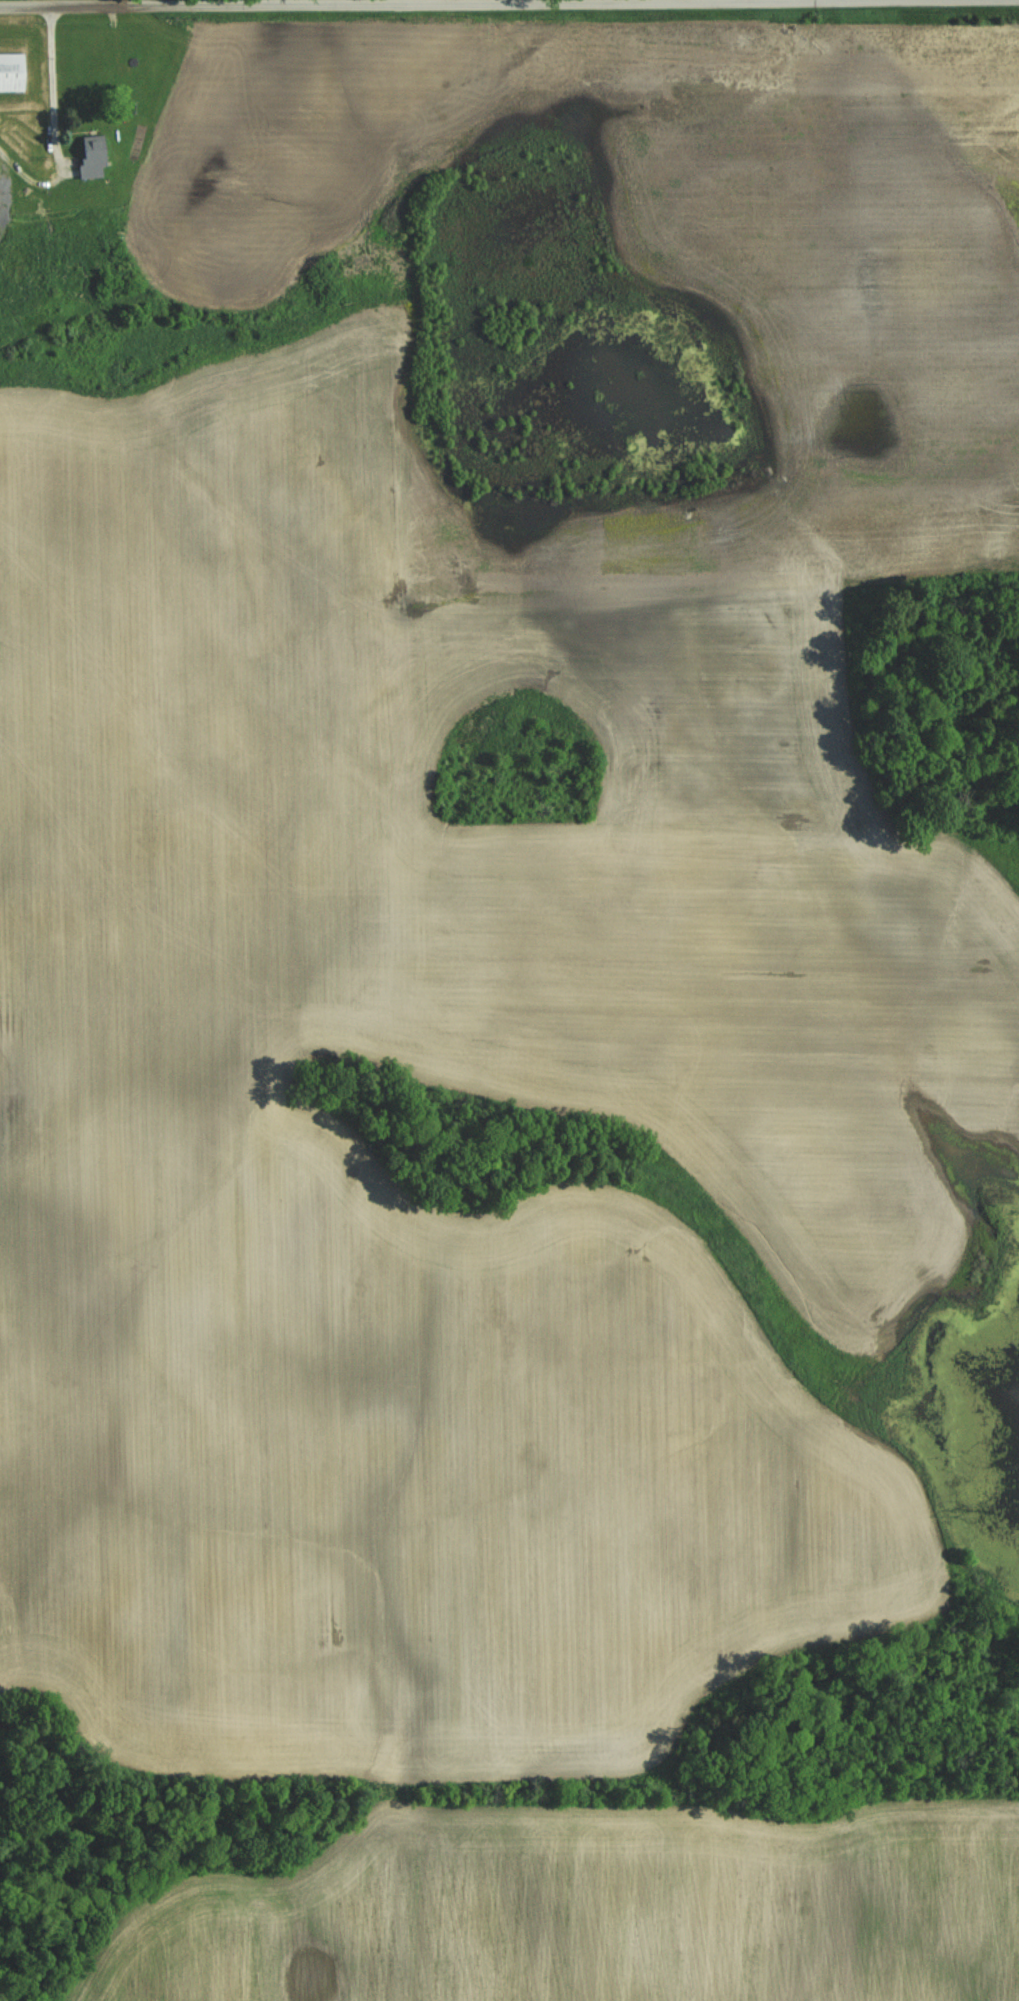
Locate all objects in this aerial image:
road: (509, 6)
building: (11, 72)
road: (55, 132)
building: (89, 157)

